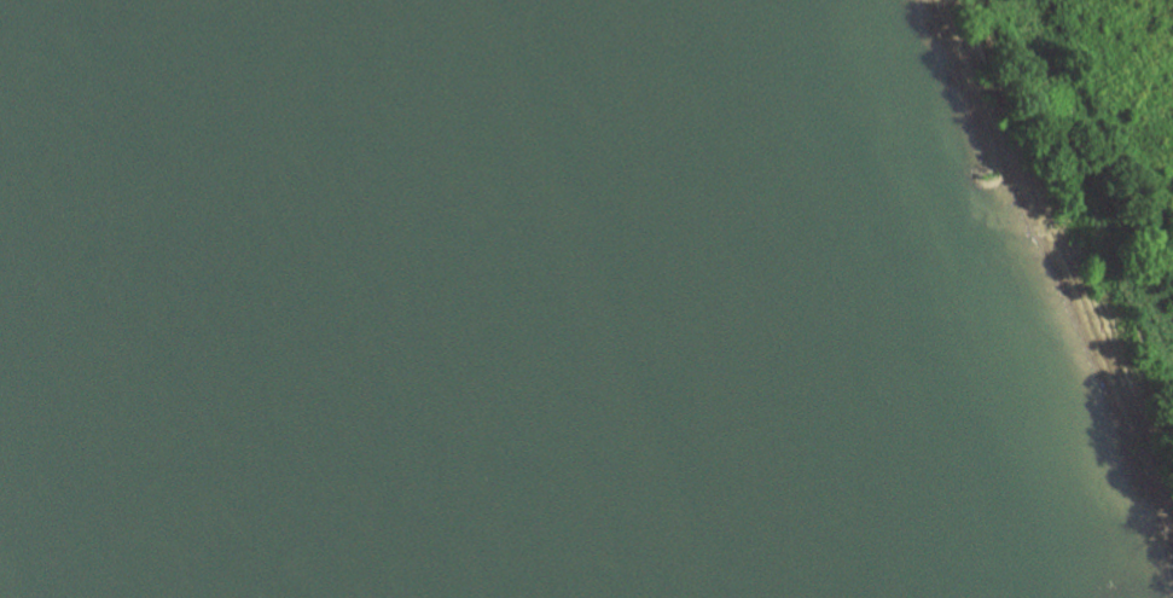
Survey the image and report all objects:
river: (378, 298)

